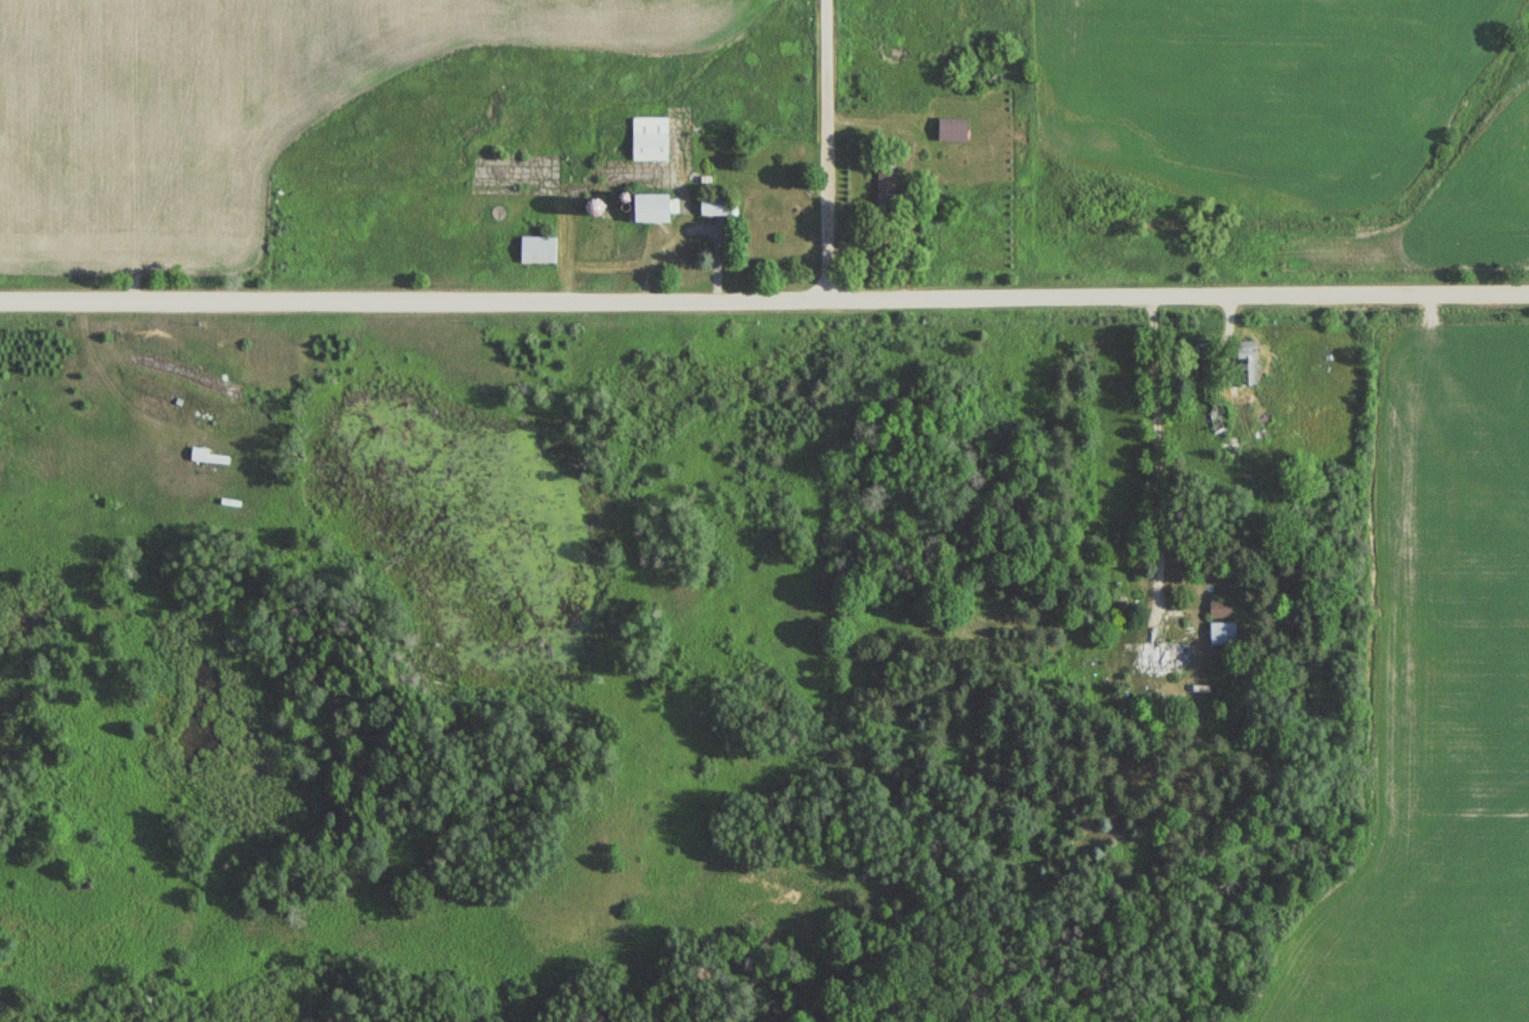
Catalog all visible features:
building: (959, 130)
building: (654, 139)
road: (827, 156)
building: (889, 187)
building: (720, 207)
building: (664, 208)
building: (543, 249)
road: (764, 313)
building: (208, 456)
road: (1141, 469)
building: (1223, 608)
building: (1227, 631)
building: (1173, 655)

